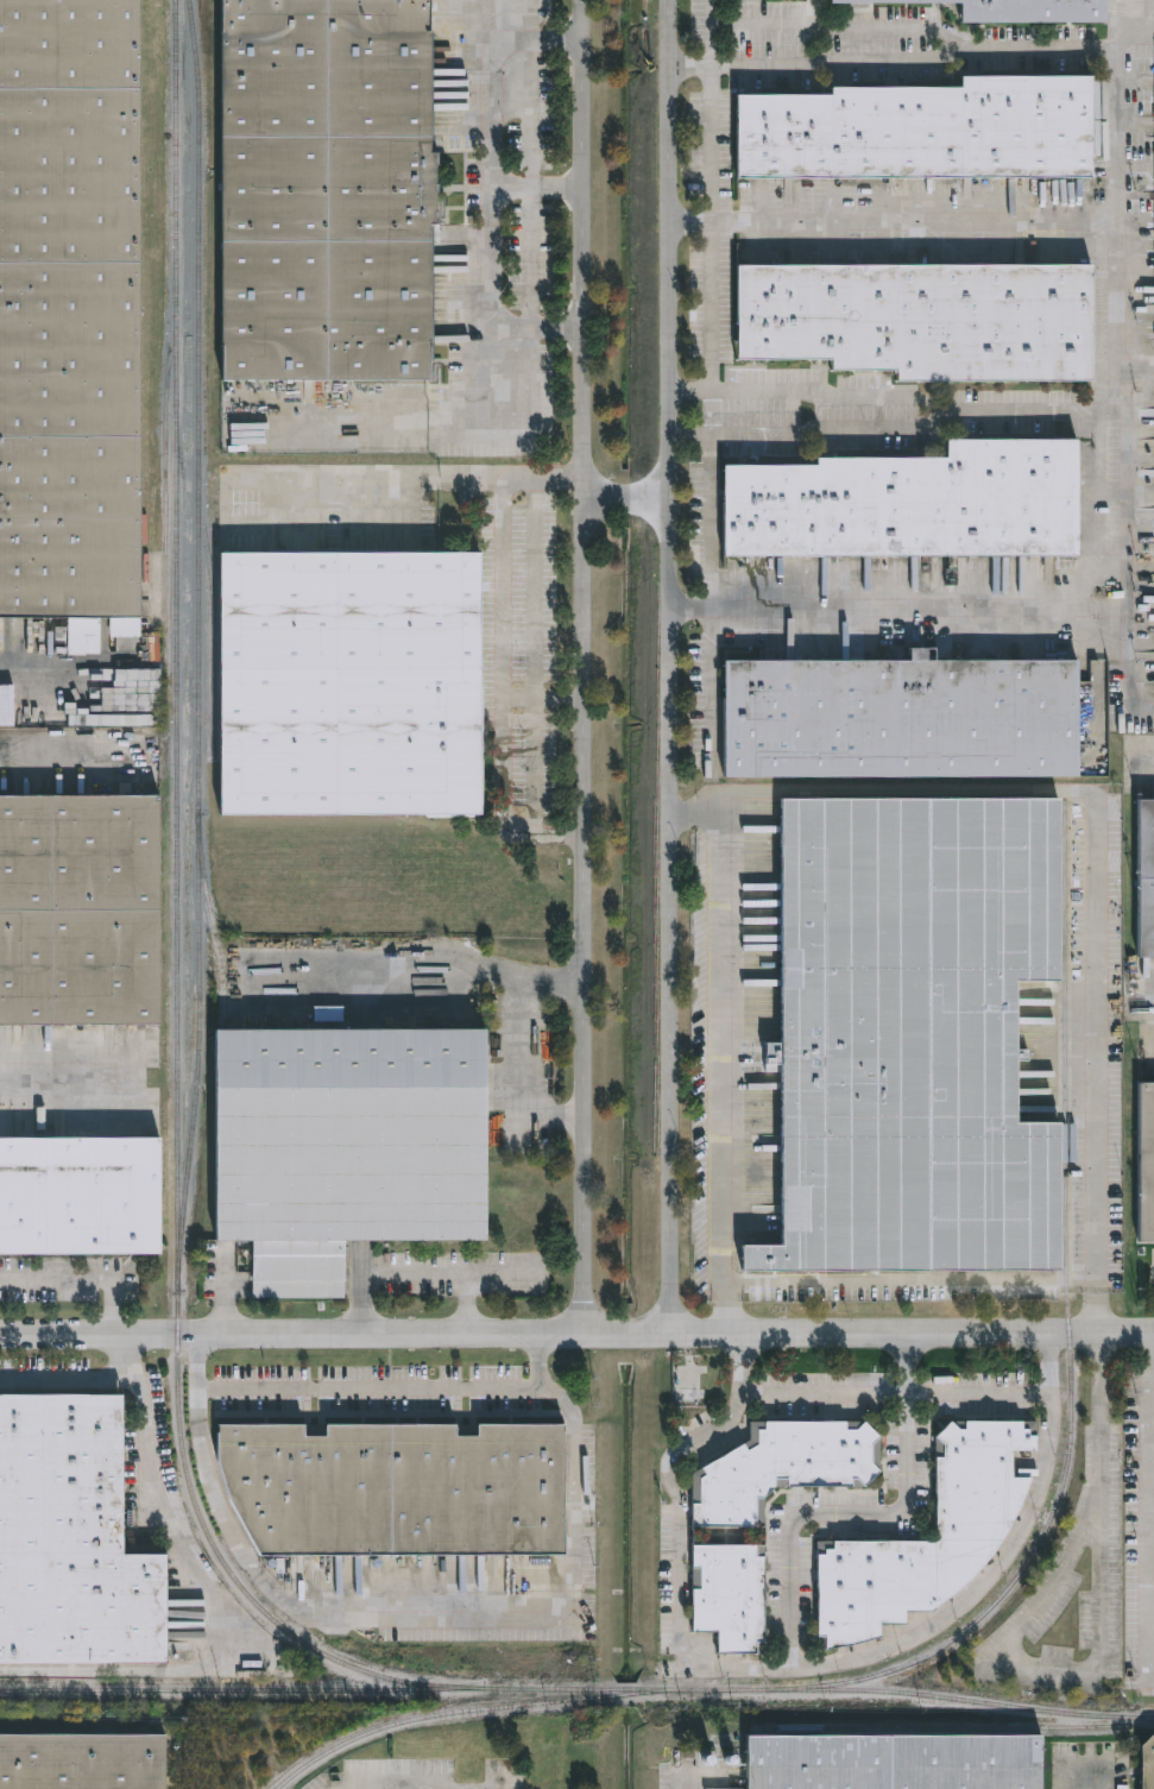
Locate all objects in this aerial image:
building: (1021, 11)
road: (832, 26)
road: (1136, 32)
road: (895, 59)
road: (492, 125)
building: (925, 132)
road: (712, 144)
building: (330, 189)
road: (896, 221)
road: (491, 302)
road: (720, 307)
building: (71, 308)
building: (925, 319)
road: (1139, 360)
road: (1123, 368)
road: (808, 397)
road: (1030, 412)
road: (811, 430)
road: (472, 479)
building: (914, 504)
railway: (165, 515)
railway: (212, 607)
road: (901, 607)
railway: (197, 626)
road: (588, 666)
road: (676, 666)
road: (44, 672)
building: (354, 684)
road: (503, 693)
building: (906, 720)
road: (1149, 758)
road: (1095, 834)
building: (1142, 880)
building: (81, 912)
railway: (176, 936)
road: (1149, 1018)
building: (907, 1035)
road: (721, 1052)
road: (71, 1073)
building: (351, 1148)
building: (1142, 1164)
building: (82, 1197)
road: (81, 1280)
road: (934, 1281)
railway: (1067, 1319)
road: (576, 1333)
road: (62, 1378)
road: (372, 1386)
road: (978, 1396)
road: (825, 1397)
building: (777, 1468)
building: (401, 1488)
building: (964, 1536)
building: (74, 1538)
road: (1152, 1554)
road: (999, 1561)
building: (724, 1595)
road: (229, 1618)
road: (420, 1620)
road: (1098, 1664)
road: (777, 1669)
railway: (93, 1688)
railway: (670, 1689)
railway: (462, 1709)
building: (84, 1760)
building: (888, 1762)
building: (1144, 1763)
road: (682, 1784)

